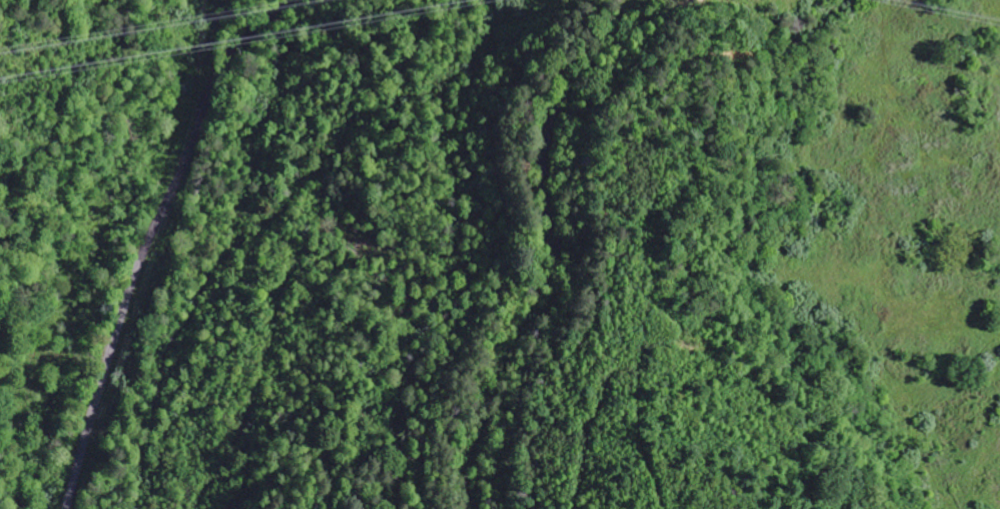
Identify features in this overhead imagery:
road: (148, 240)

